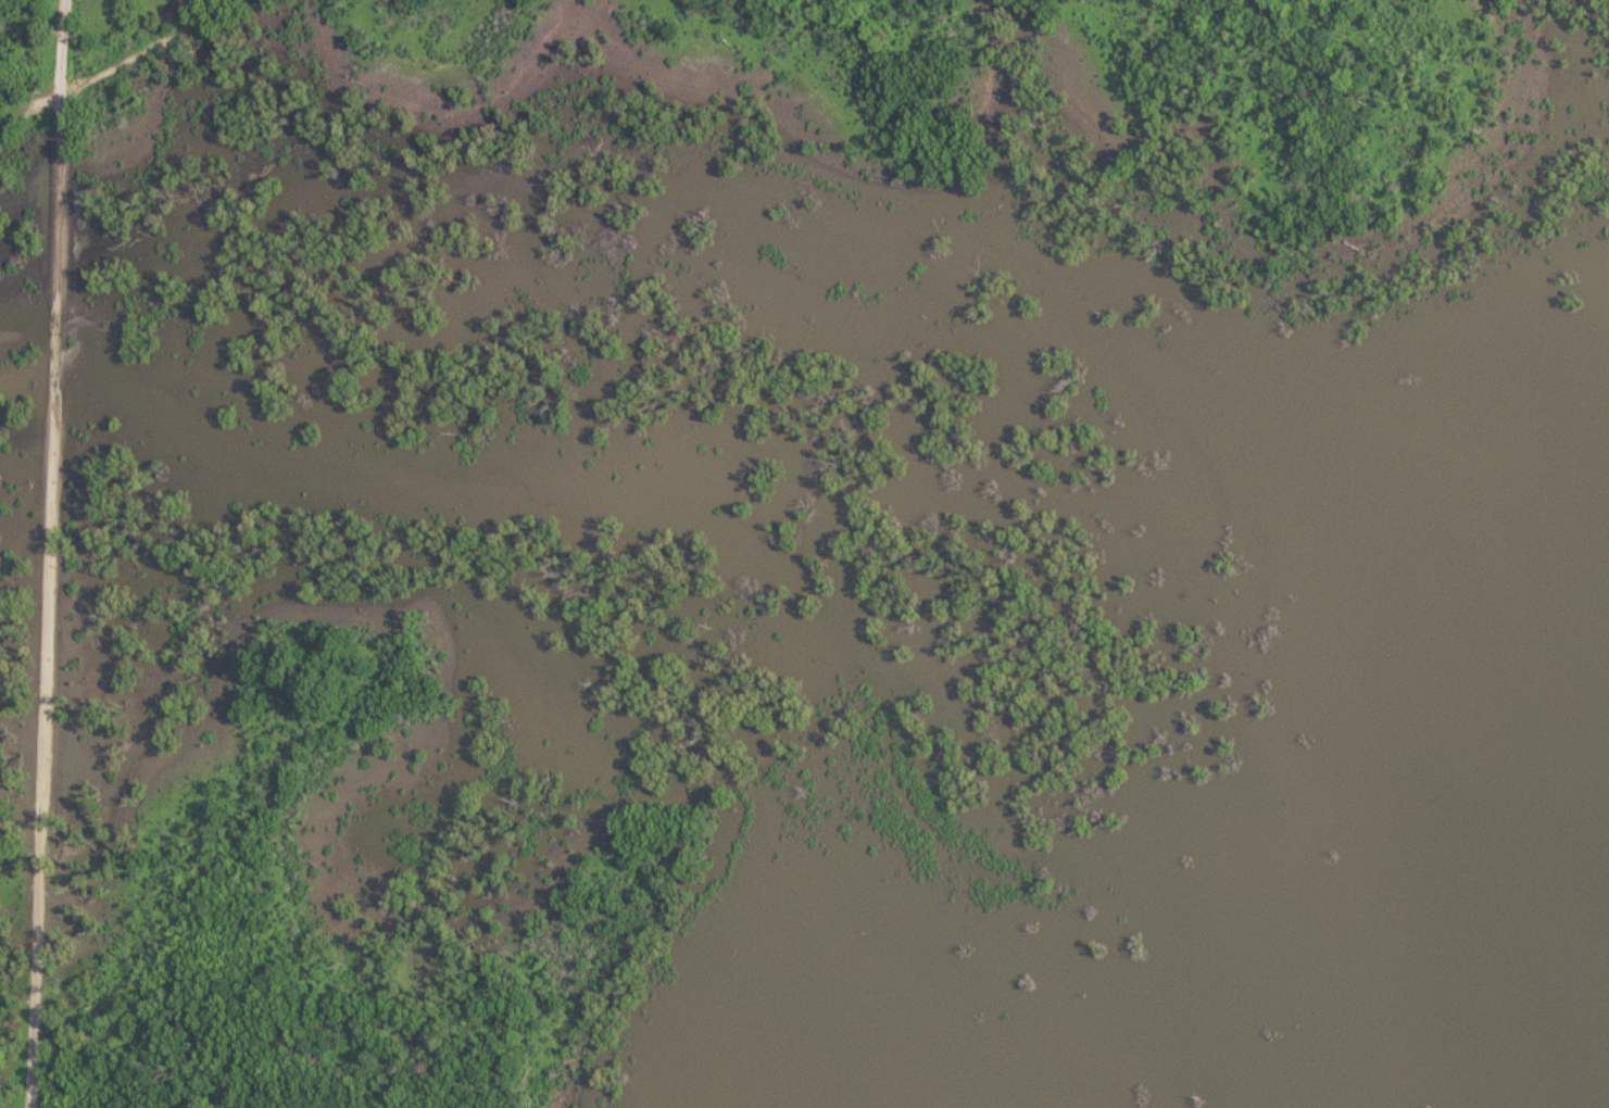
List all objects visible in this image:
road: (26, 553)

